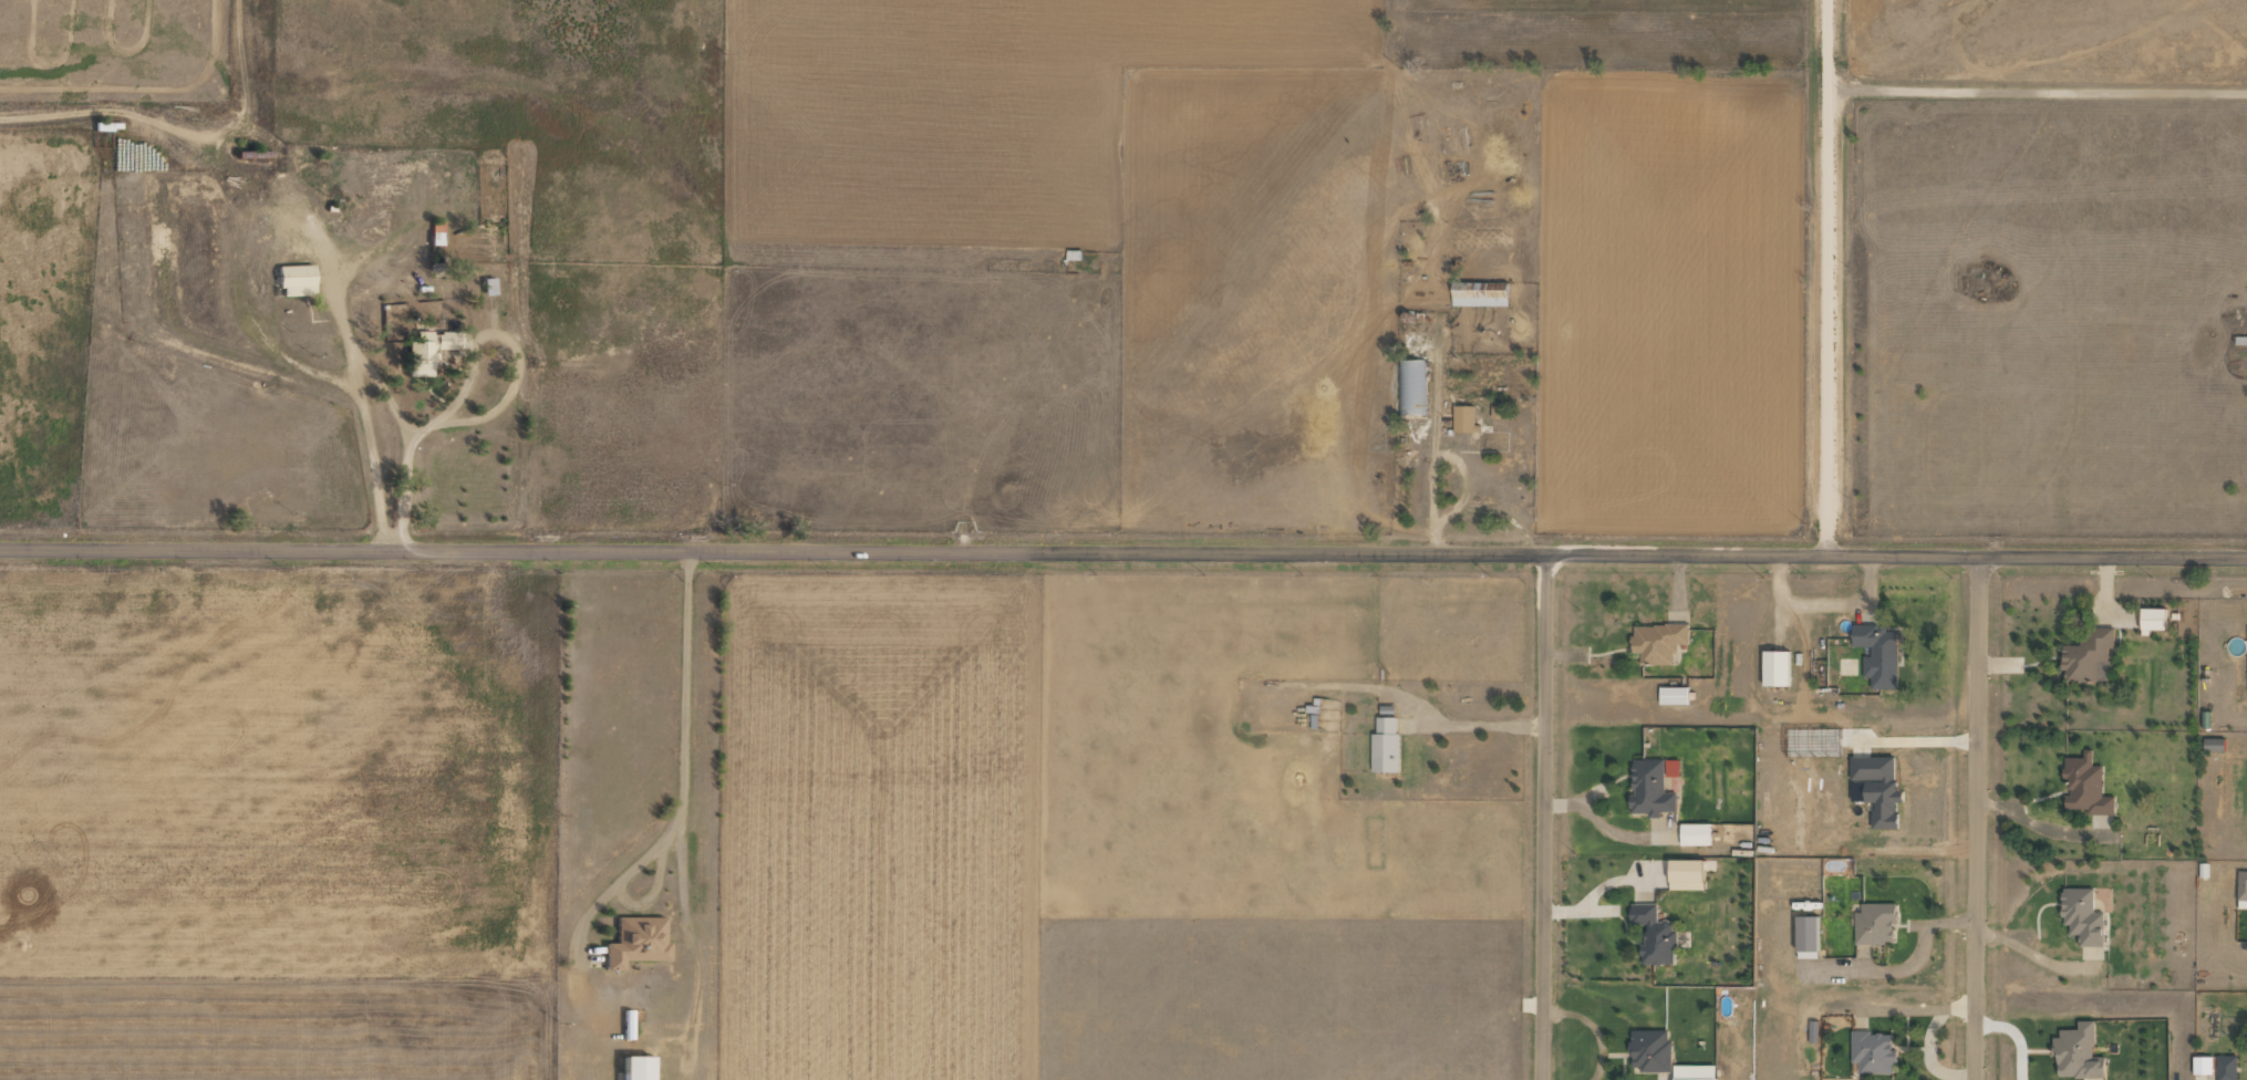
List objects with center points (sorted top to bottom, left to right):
building: (435, 232)
road: (1825, 277)
building: (294, 280)
building: (1479, 293)
building: (426, 351)
building: (1411, 386)
building: (1463, 418)
road: (1123, 553)
building: (2152, 620)
building: (1657, 642)
building: (1877, 655)
building: (2085, 655)
building: (1774, 667)
building: (1673, 695)
building: (1385, 745)
building: (2214, 745)
building: (1671, 768)
building: (2085, 786)
building: (1877, 788)
building: (1649, 789)
road: (1542, 818)
road: (1975, 819)
building: (1695, 834)
building: (1686, 874)
building: (2241, 890)
building: (2082, 916)
building: (1874, 924)
building: (1654, 934)
building: (1806, 934)
building: (635, 942)
building: (1650, 1050)
building: (1873, 1052)
building: (2077, 1053)
building: (2202, 1065)
building: (634, 1068)
building: (2226, 1068)
building: (1692, 1072)

